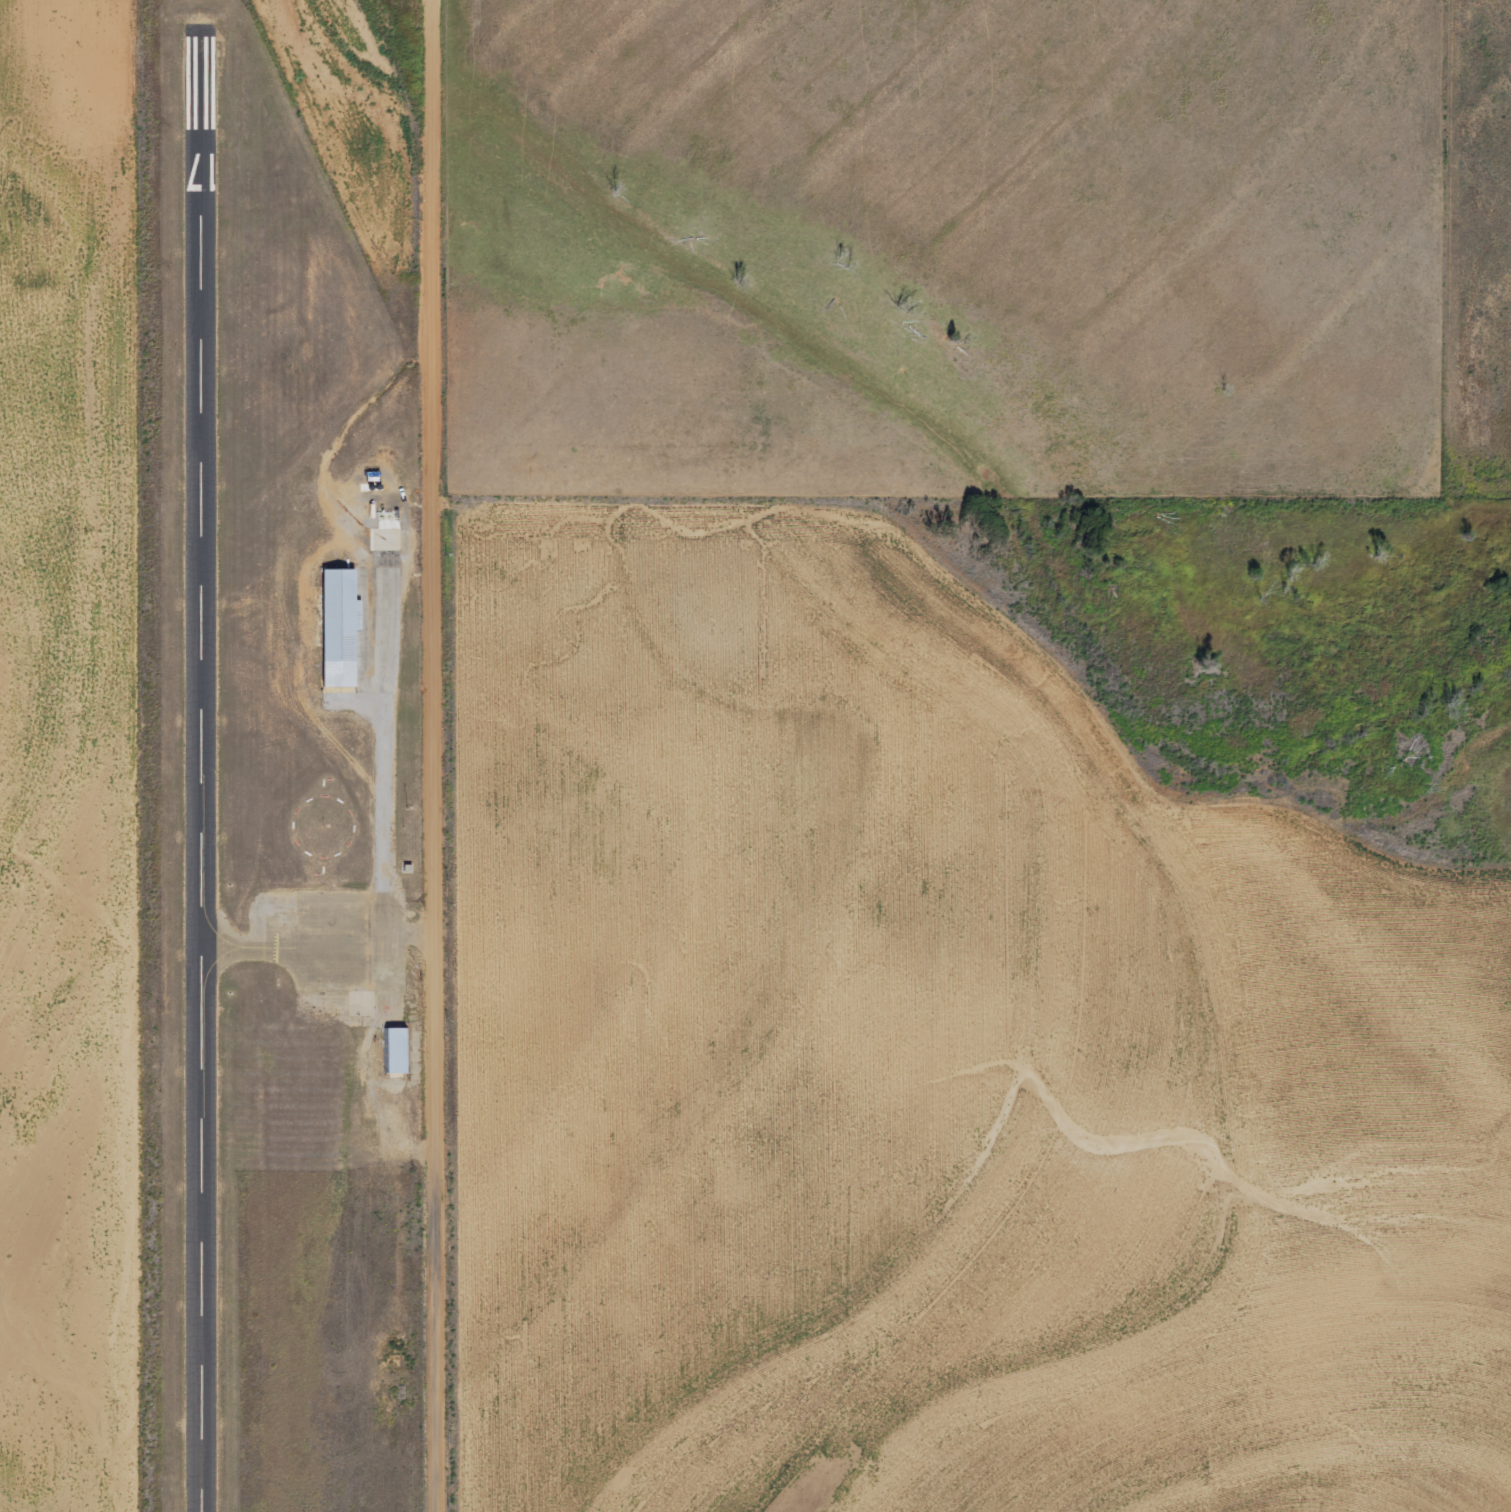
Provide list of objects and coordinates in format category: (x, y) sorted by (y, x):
building: (339, 630)
road: (433, 755)
airport runway: (207, 783)
building: (390, 1050)

